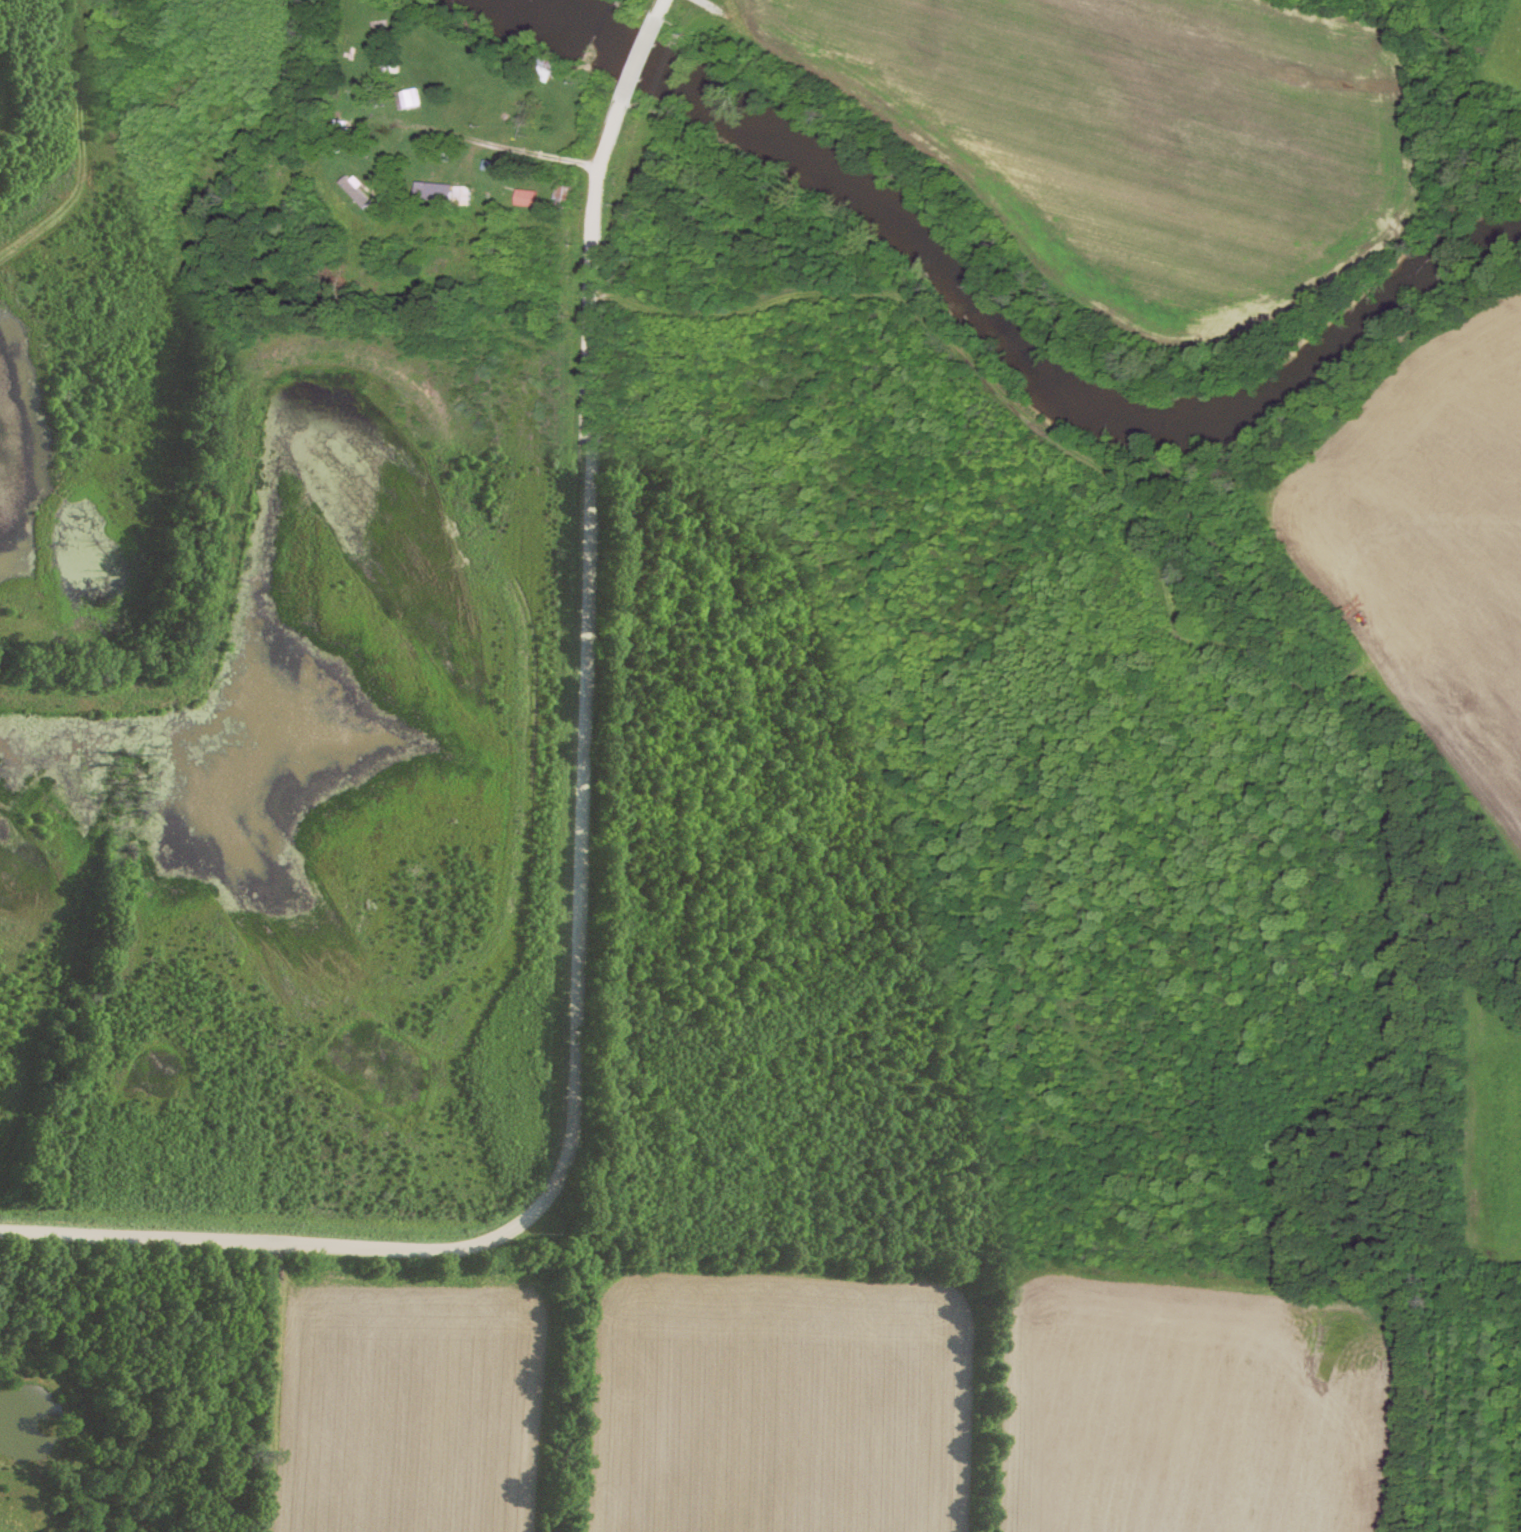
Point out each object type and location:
road: (667, 6)
road: (646, 59)
building: (395, 69)
building: (416, 97)
building: (569, 195)
building: (470, 196)
building: (533, 197)
building: (501, 202)
river: (1019, 335)
road: (577, 935)

